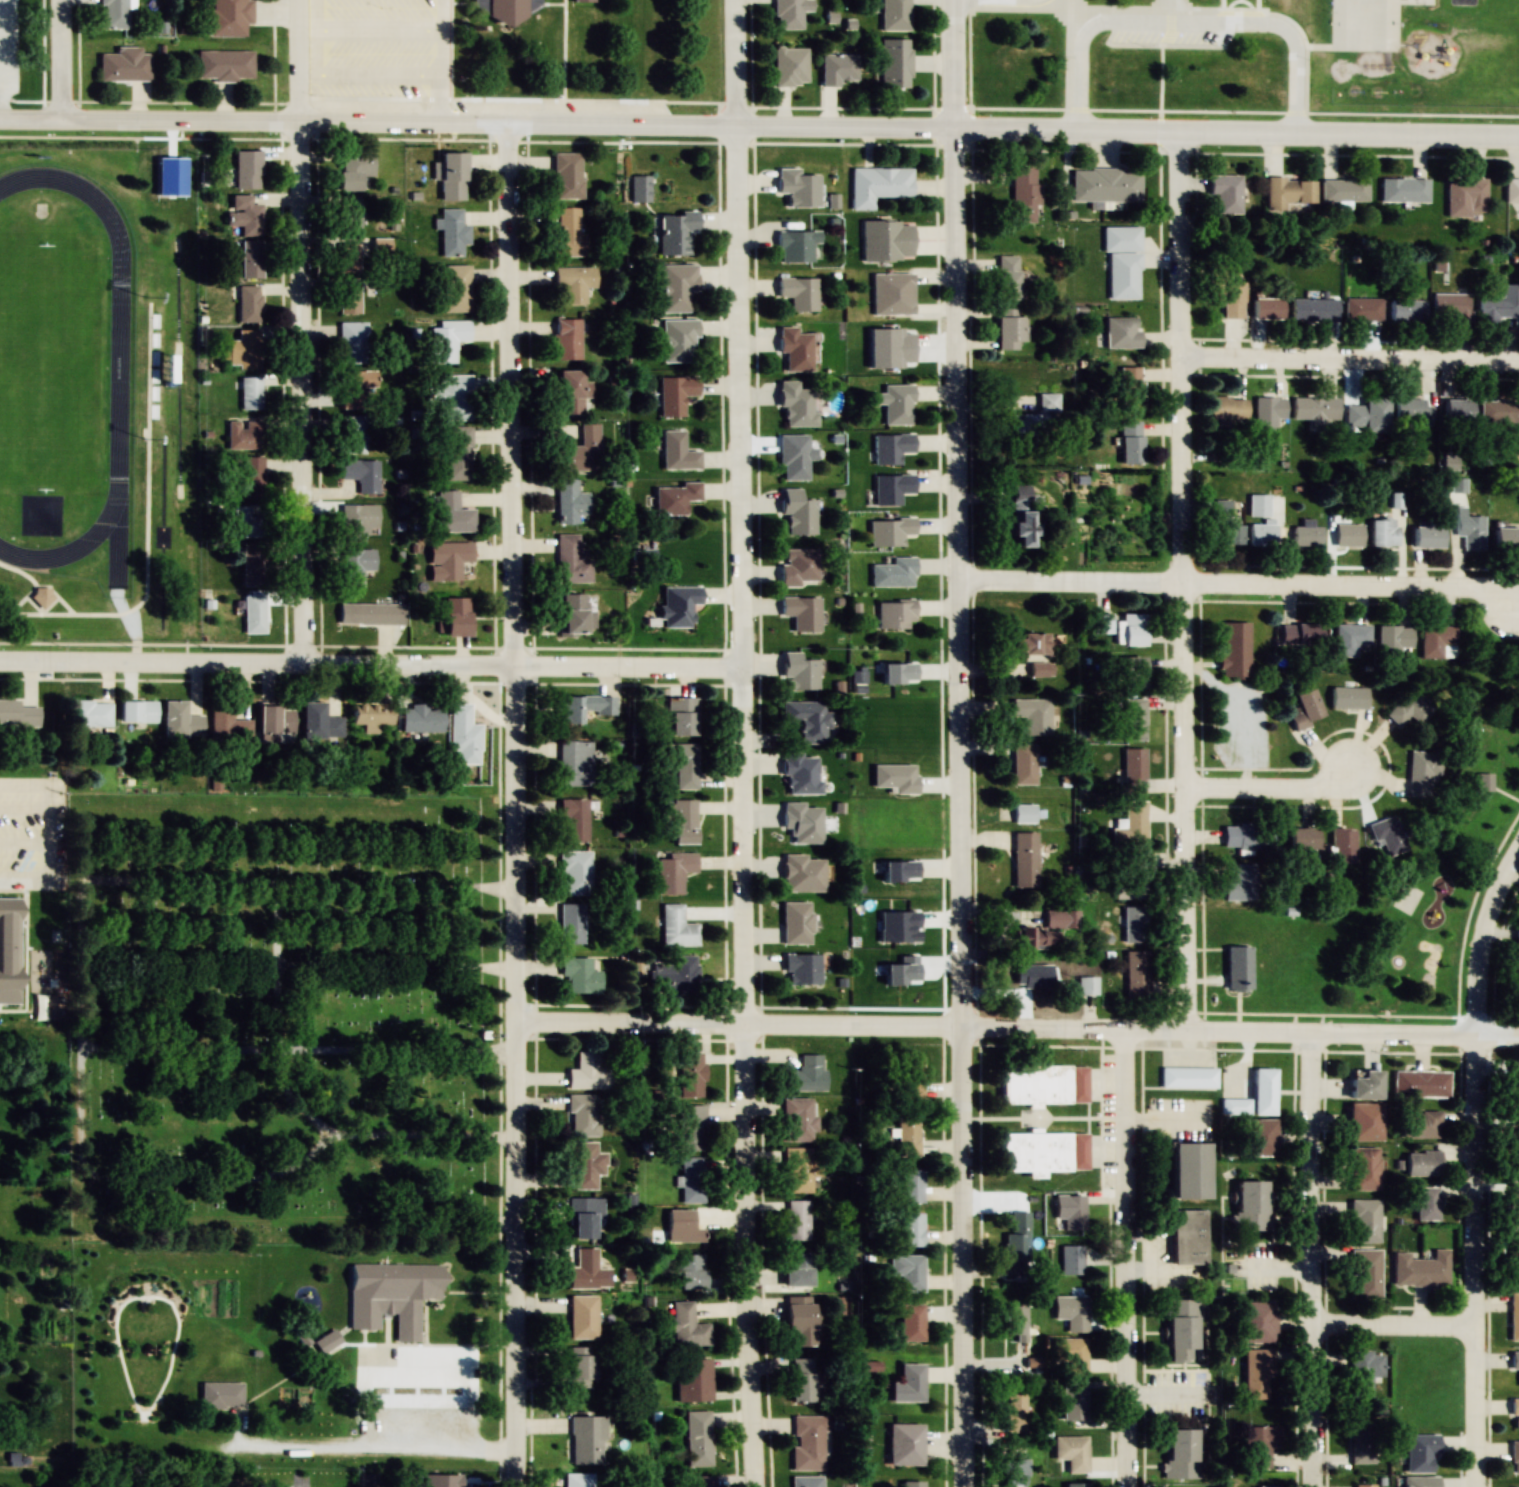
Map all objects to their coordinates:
building: (582, 0)
building: (505, 10)
building: (113, 14)
building: (786, 14)
building: (894, 15)
building: (229, 17)
road: (1237, 24)
road: (1077, 62)
building: (894, 63)
road: (63, 64)
building: (223, 64)
building: (123, 65)
building: (789, 66)
building: (837, 68)
road: (474, 127)
road: (1234, 135)
building: (245, 169)
building: (353, 169)
building: (451, 175)
building: (566, 175)
building: (1105, 184)
building: (877, 185)
building: (797, 187)
building: (638, 188)
building: (1343, 189)
building: (1404, 190)
building: (1511, 190)
building: (1287, 191)
building: (1225, 193)
building: (1022, 195)
building: (1465, 196)
building: (243, 215)
building: (348, 218)
building: (452, 232)
building: (674, 232)
building: (567, 233)
building: (886, 241)
building: (381, 245)
building: (795, 245)
building: (347, 258)
building: (250, 259)
building: (1121, 261)
building: (1005, 277)
building: (574, 282)
building: (676, 287)
building: (455, 288)
building: (798, 293)
building: (891, 293)
building: (1227, 297)
building: (347, 298)
building: (248, 303)
building: (1451, 305)
building: (1500, 305)
building: (1265, 308)
building: (1314, 309)
building: (1363, 309)
building: (1406, 310)
building: (1008, 329)
building: (1121, 332)
road: (303, 333)
building: (566, 339)
building: (447, 340)
building: (678, 340)
building: (351, 342)
building: (794, 348)
building: (243, 350)
road: (1351, 361)
park: (47, 366)
track: (119, 368)
building: (164, 368)
building: (354, 387)
building: (1129, 388)
building: (568, 392)
building: (249, 393)
building: (674, 394)
building: (453, 397)
building: (895, 403)
building: (795, 404)
building: (1227, 408)
building: (1268, 411)
building: (1314, 412)
building: (1456, 412)
building: (1033, 414)
building: (1411, 414)
building: (1367, 415)
building: (1498, 417)
building: (243, 434)
building: (352, 434)
building: (1129, 442)
building: (890, 447)
building: (579, 451)
building: (676, 451)
building: (457, 453)
building: (793, 457)
building: (361, 474)
building: (251, 478)
building: (891, 489)
building: (674, 497)
building: (569, 502)
building: (796, 512)
building: (451, 513)
building: (1020, 516)
building: (244, 521)
building: (356, 521)
building: (1224, 524)
building: (888, 531)
building: (1470, 531)
building: (1383, 532)
building: (1306, 534)
building: (1347, 534)
building: (1427, 534)
building: (1505, 538)
building: (447, 560)
building: (571, 560)
building: (251, 565)
building: (354, 566)
building: (797, 567)
building: (893, 573)
road: (1183, 584)
road: (1235, 585)
building: (40, 597)
building: (677, 605)
building: (800, 613)
building: (252, 614)
building: (370, 614)
building: (571, 614)
building: (894, 614)
building: (456, 616)
building: (1102, 622)
building: (1131, 629)
building: (1300, 634)
building: (1349, 639)
building: (1393, 639)
building: (1437, 642)
building: (1028, 644)
building: (1233, 649)
road: (371, 666)
building: (1039, 669)
building: (1129, 672)
building: (797, 673)
building: (1518, 686)
building: (1348, 697)
building: (582, 707)
building: (1408, 708)
building: (1305, 710)
building: (136, 712)
building: (89, 713)
building: (17, 714)
building: (1032, 715)
building: (371, 716)
building: (681, 716)
building: (421, 718)
building: (1132, 719)
building: (805, 720)
building: (179, 721)
building: (319, 722)
building: (227, 723)
building: (274, 724)
building: (463, 736)
road: (742, 743)
road: (959, 743)
building: (575, 763)
building: (1022, 763)
building: (682, 764)
building: (1422, 771)
building: (800, 773)
building: (1131, 778)
building: (1483, 782)
road: (1271, 787)
road: (515, 807)
building: (1023, 813)
building: (574, 819)
building: (683, 821)
building: (801, 822)
building: (1134, 825)
building: (1247, 835)
building: (1386, 837)
building: (1301, 838)
building: (1342, 845)
building: (1023, 859)
building: (673, 872)
building: (575, 873)
building: (801, 874)
building: (1129, 878)
building: (1239, 883)
building: (794, 923)
building: (570, 924)
building: (1133, 925)
building: (676, 927)
building: (1046, 929)
park: (1419, 932)
building: (8, 951)
road: (299, 961)
building: (800, 969)
building: (1236, 969)
building: (1027, 975)
building: (1135, 975)
building: (579, 976)
building: (675, 976)
building: (1516, 976)
building: (1086, 985)
park: (285, 1017)
road: (738, 1024)
road: (1239, 1034)
road: (300, 1048)
road: (85, 1054)
building: (587, 1070)
building: (689, 1075)
building: (804, 1075)
building: (908, 1078)
building: (1187, 1078)
building: (1041, 1084)
building: (1420, 1084)
building: (1364, 1086)
building: (1514, 1086)
building: (1261, 1092)
building: (1234, 1107)
building: (582, 1115)
building: (797, 1120)
building: (1363, 1121)
building: (1420, 1124)
building: (690, 1127)
road: (363, 1134)
building: (906, 1137)
building: (1256, 1138)
building: (1515, 1148)
building: (1042, 1153)
building: (1422, 1163)
building: (583, 1164)
road: (1473, 1164)
building: (1364, 1168)
building: (796, 1169)
building: (1186, 1171)
building: (691, 1180)
building: (910, 1186)
building: (1427, 1204)
building: (1513, 1205)
building: (1251, 1206)
building: (1073, 1213)
building: (582, 1217)
building: (796, 1221)
building: (1365, 1221)
building: (682, 1228)
building: (910, 1230)
building: (1187, 1237)
building: (1015, 1239)
building: (1514, 1253)
building: (1071, 1259)
road: (1124, 1260)
road: (1309, 1261)
building: (796, 1269)
building: (1420, 1270)
building: (587, 1271)
building: (690, 1272)
building: (905, 1273)
building: (1366, 1273)
building: (391, 1295)
building: (1071, 1313)
building: (581, 1316)
building: (1513, 1316)
building: (798, 1320)
building: (1015, 1322)
building: (1255, 1322)
building: (909, 1323)
building: (685, 1326)
road: (1391, 1328)
building: (1180, 1330)
building: (326, 1342)
building: (1069, 1356)
building: (1514, 1360)
building: (580, 1367)
building: (1362, 1372)
building: (1255, 1375)
building: (692, 1379)
building: (800, 1379)
building: (906, 1383)
building: (220, 1395)
building: (1073, 1399)
building: (1013, 1411)
building: (1515, 1412)
building: (698, 1438)
building: (586, 1439)
building: (1361, 1440)
building: (808, 1442)
building: (903, 1444)
building: (1258, 1445)
road: (377, 1449)
building: (1420, 1451)
building: (1071, 1452)
building: (1182, 1453)
building: (1514, 1456)
building: (1013, 1472)
building: (577, 1479)
building: (440, 1480)
building: (703, 1481)
building: (807, 1481)
building: (1420, 1481)
building: (910, 1483)
building: (1076, 1484)
building: (265, 1485)
building: (335, 1485)
building: (1362, 1485)
building: (1269, 1486)

